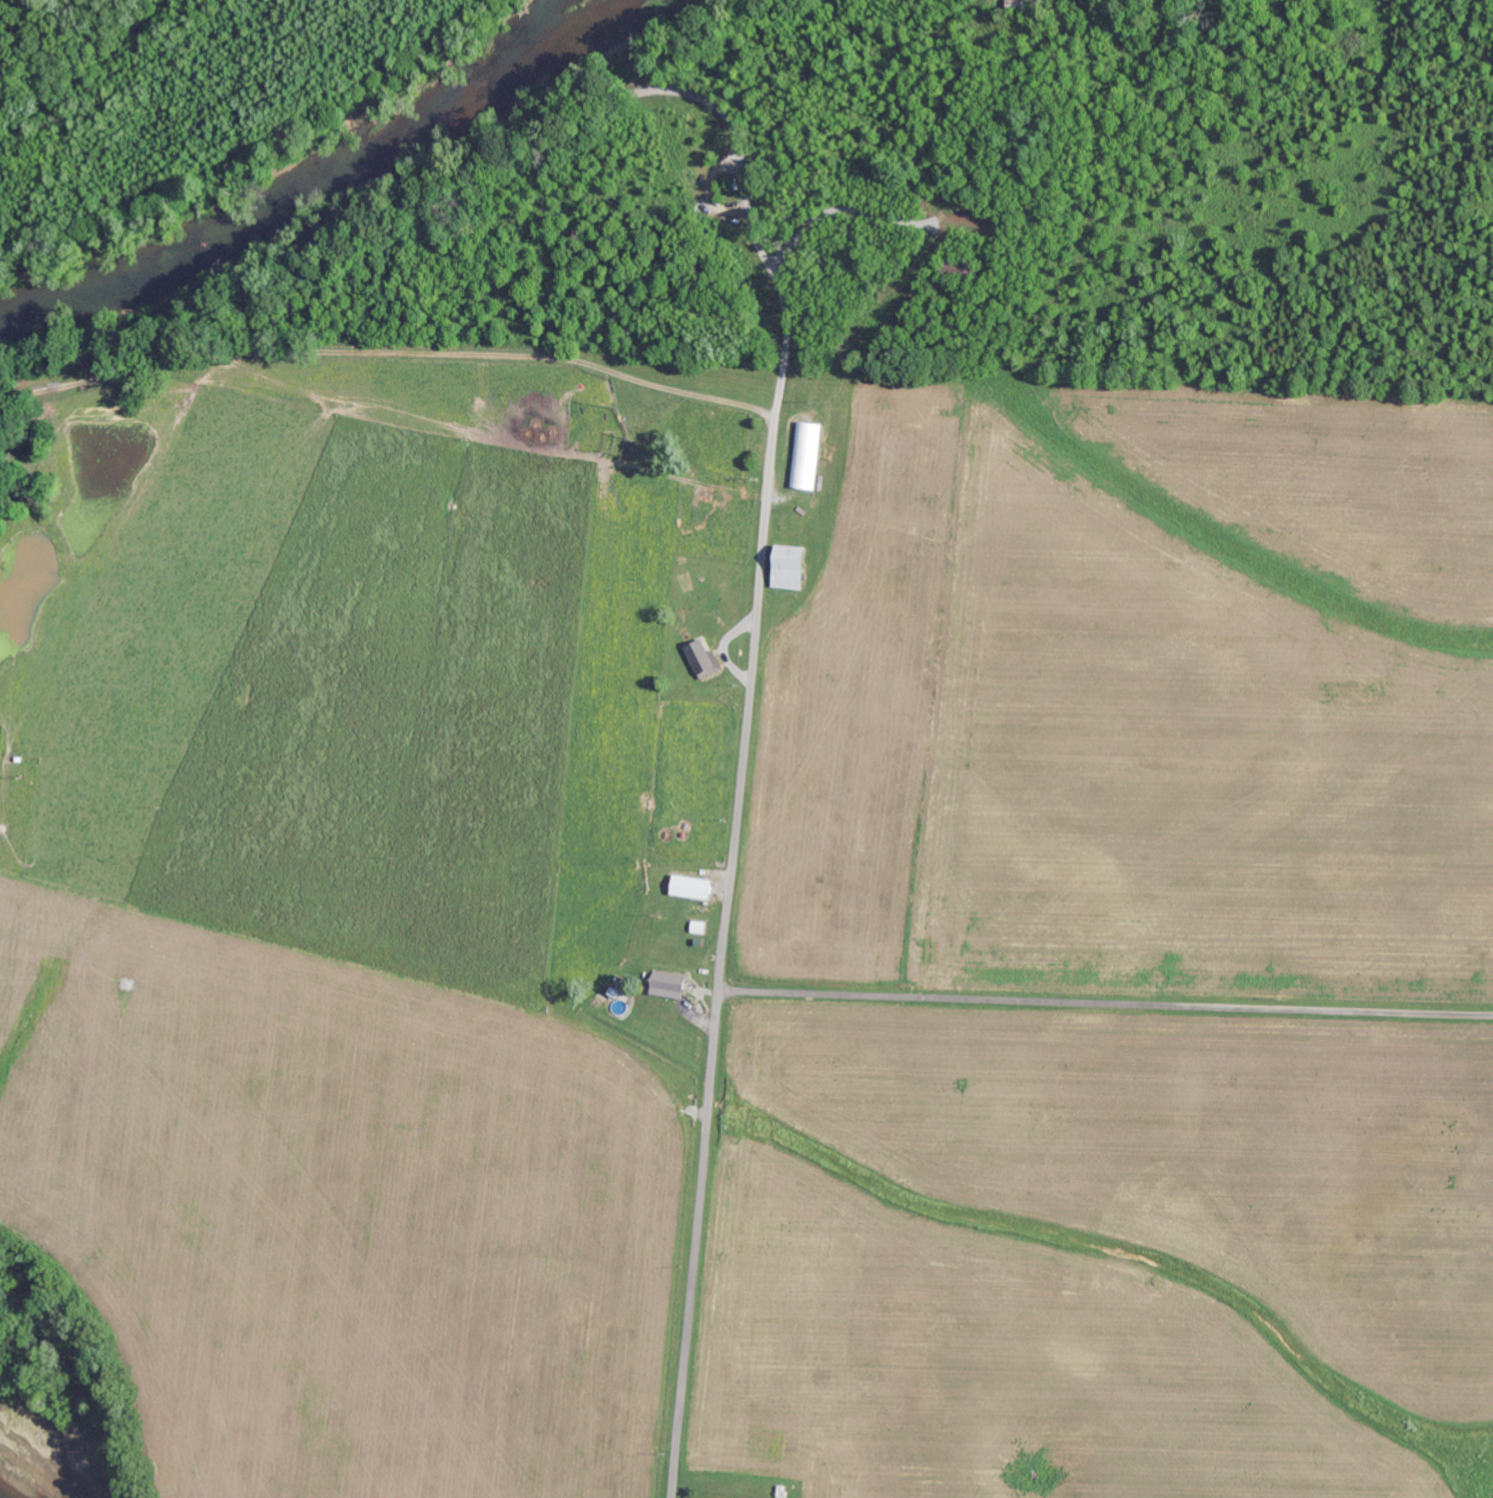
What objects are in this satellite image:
river: (333, 155)
road: (738, 222)
building: (808, 453)
building: (794, 566)
building: (704, 656)
building: (697, 886)
road: (722, 962)
building: (670, 988)
road: (1106, 1002)
river: (30, 1476)

